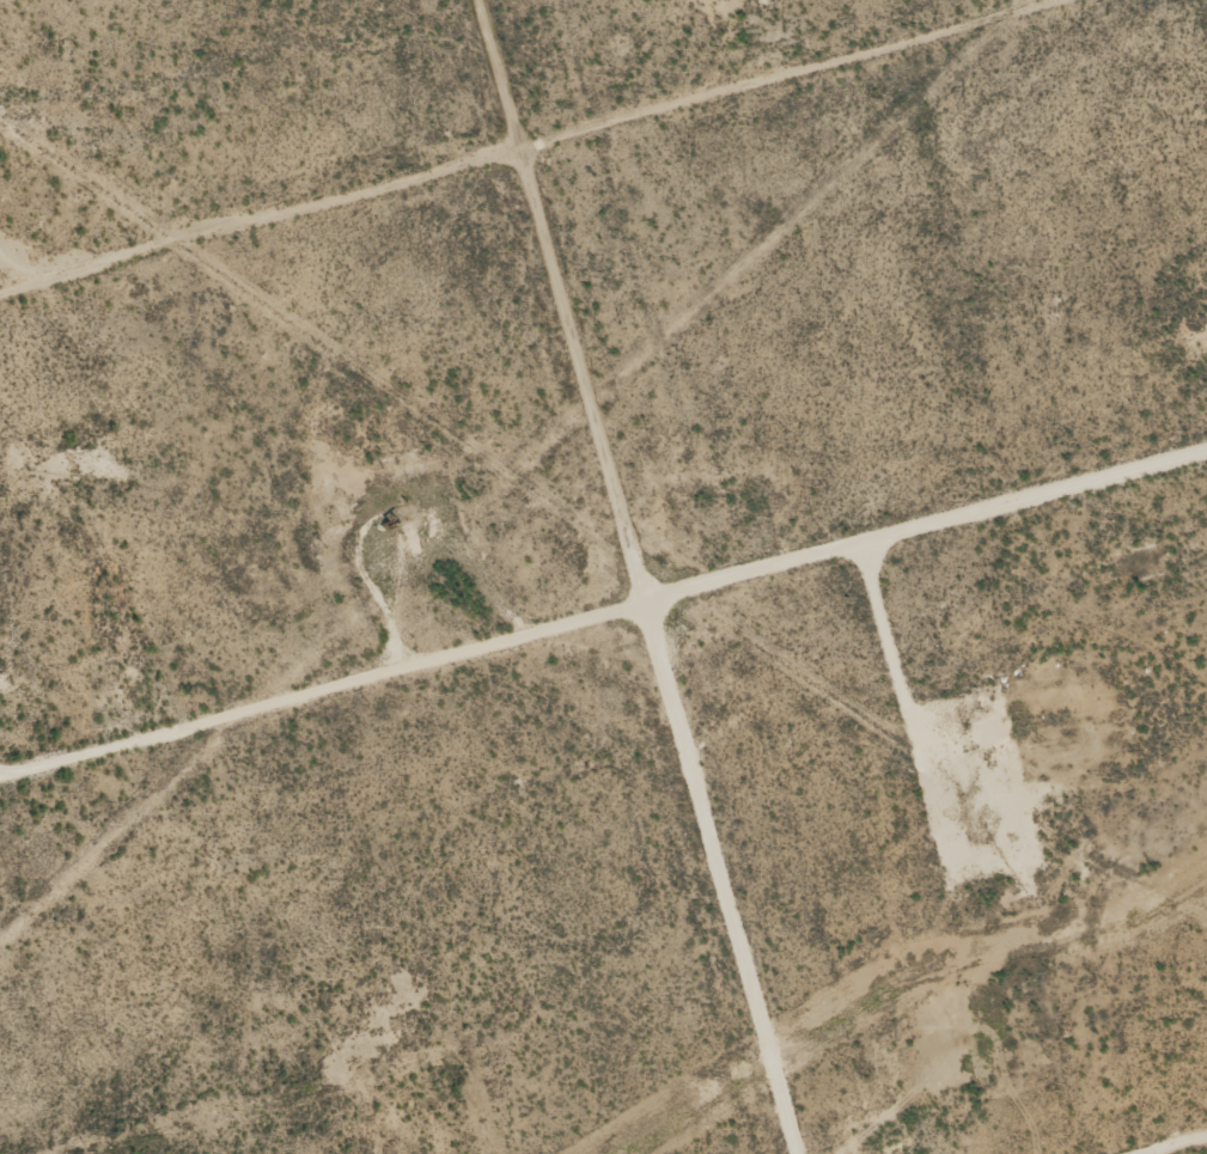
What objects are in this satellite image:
road: (560, 576)
road: (604, 647)

